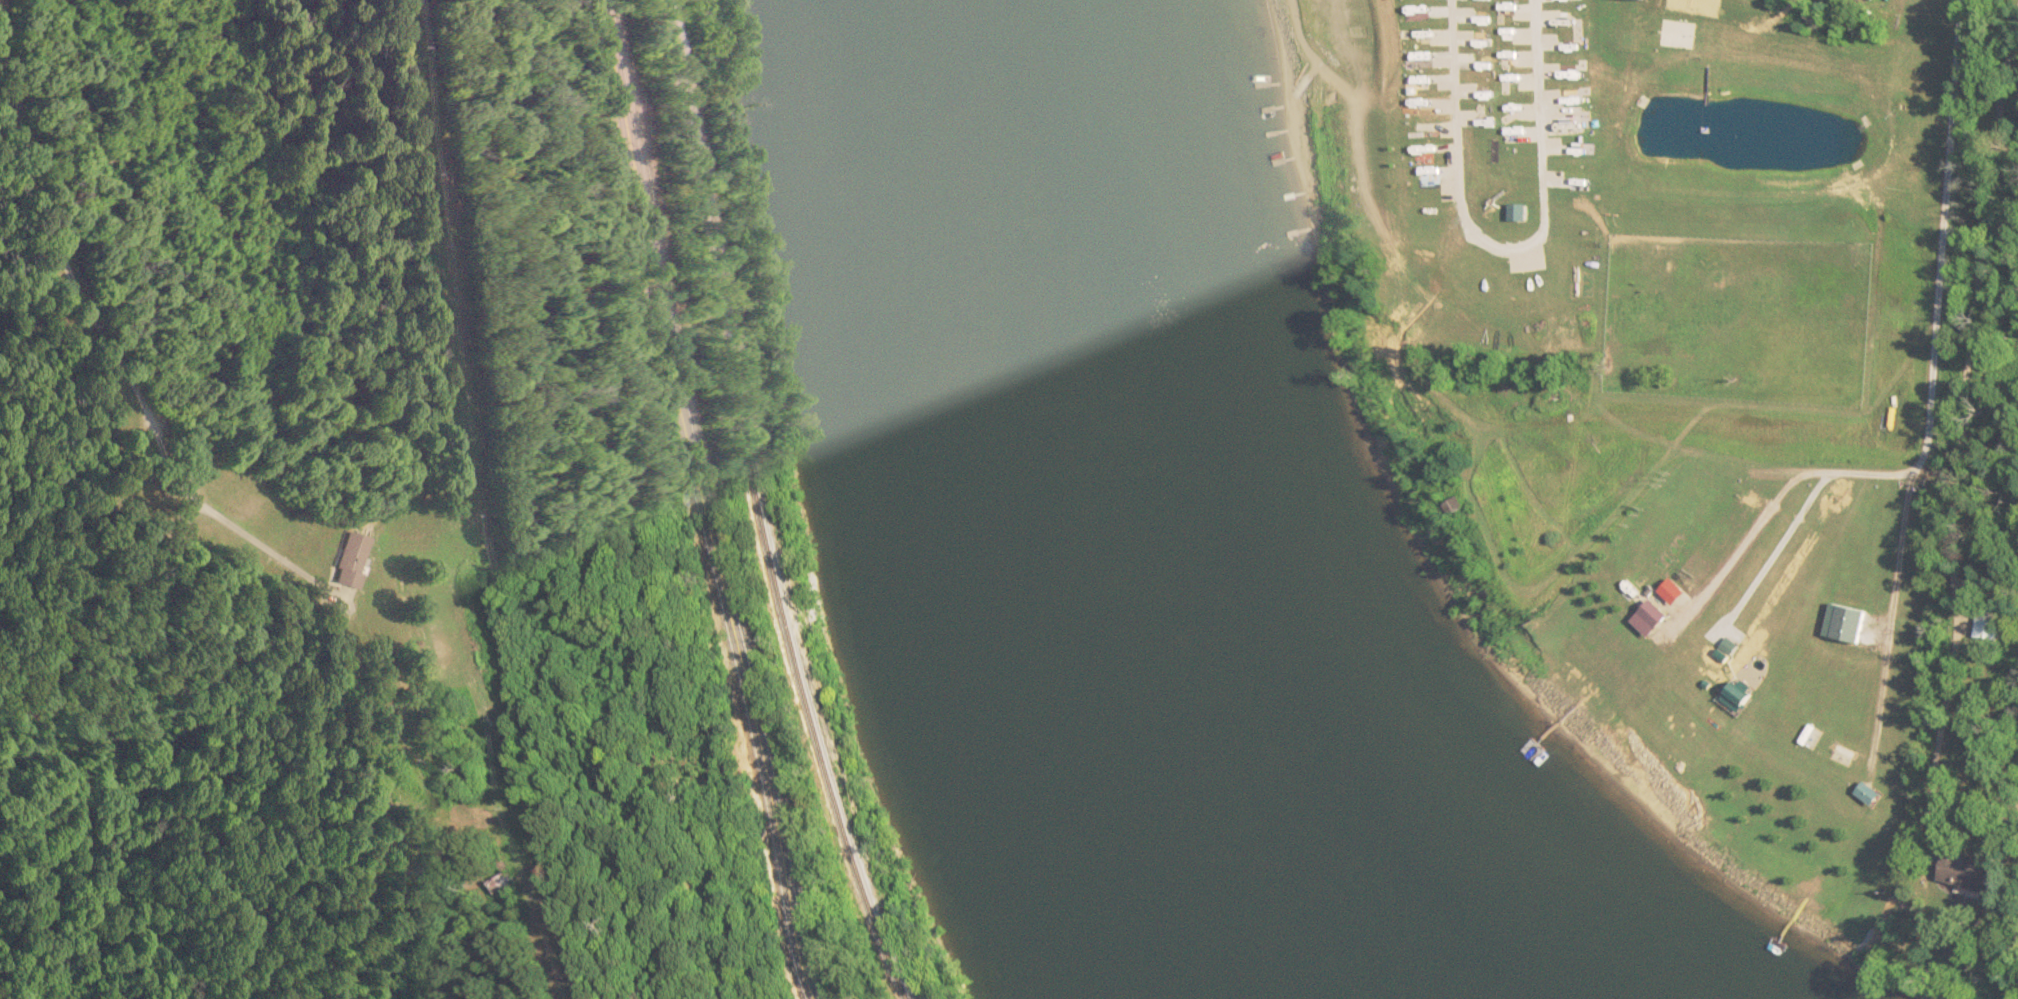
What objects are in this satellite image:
road: (110, 352)
road: (1932, 390)
road: (701, 502)
railway: (781, 502)
building: (1459, 508)
road: (1770, 511)
river: (1093, 521)
building: (352, 561)
building: (1656, 618)
building: (1988, 624)
building: (1853, 626)
building: (1972, 874)
building: (513, 881)

